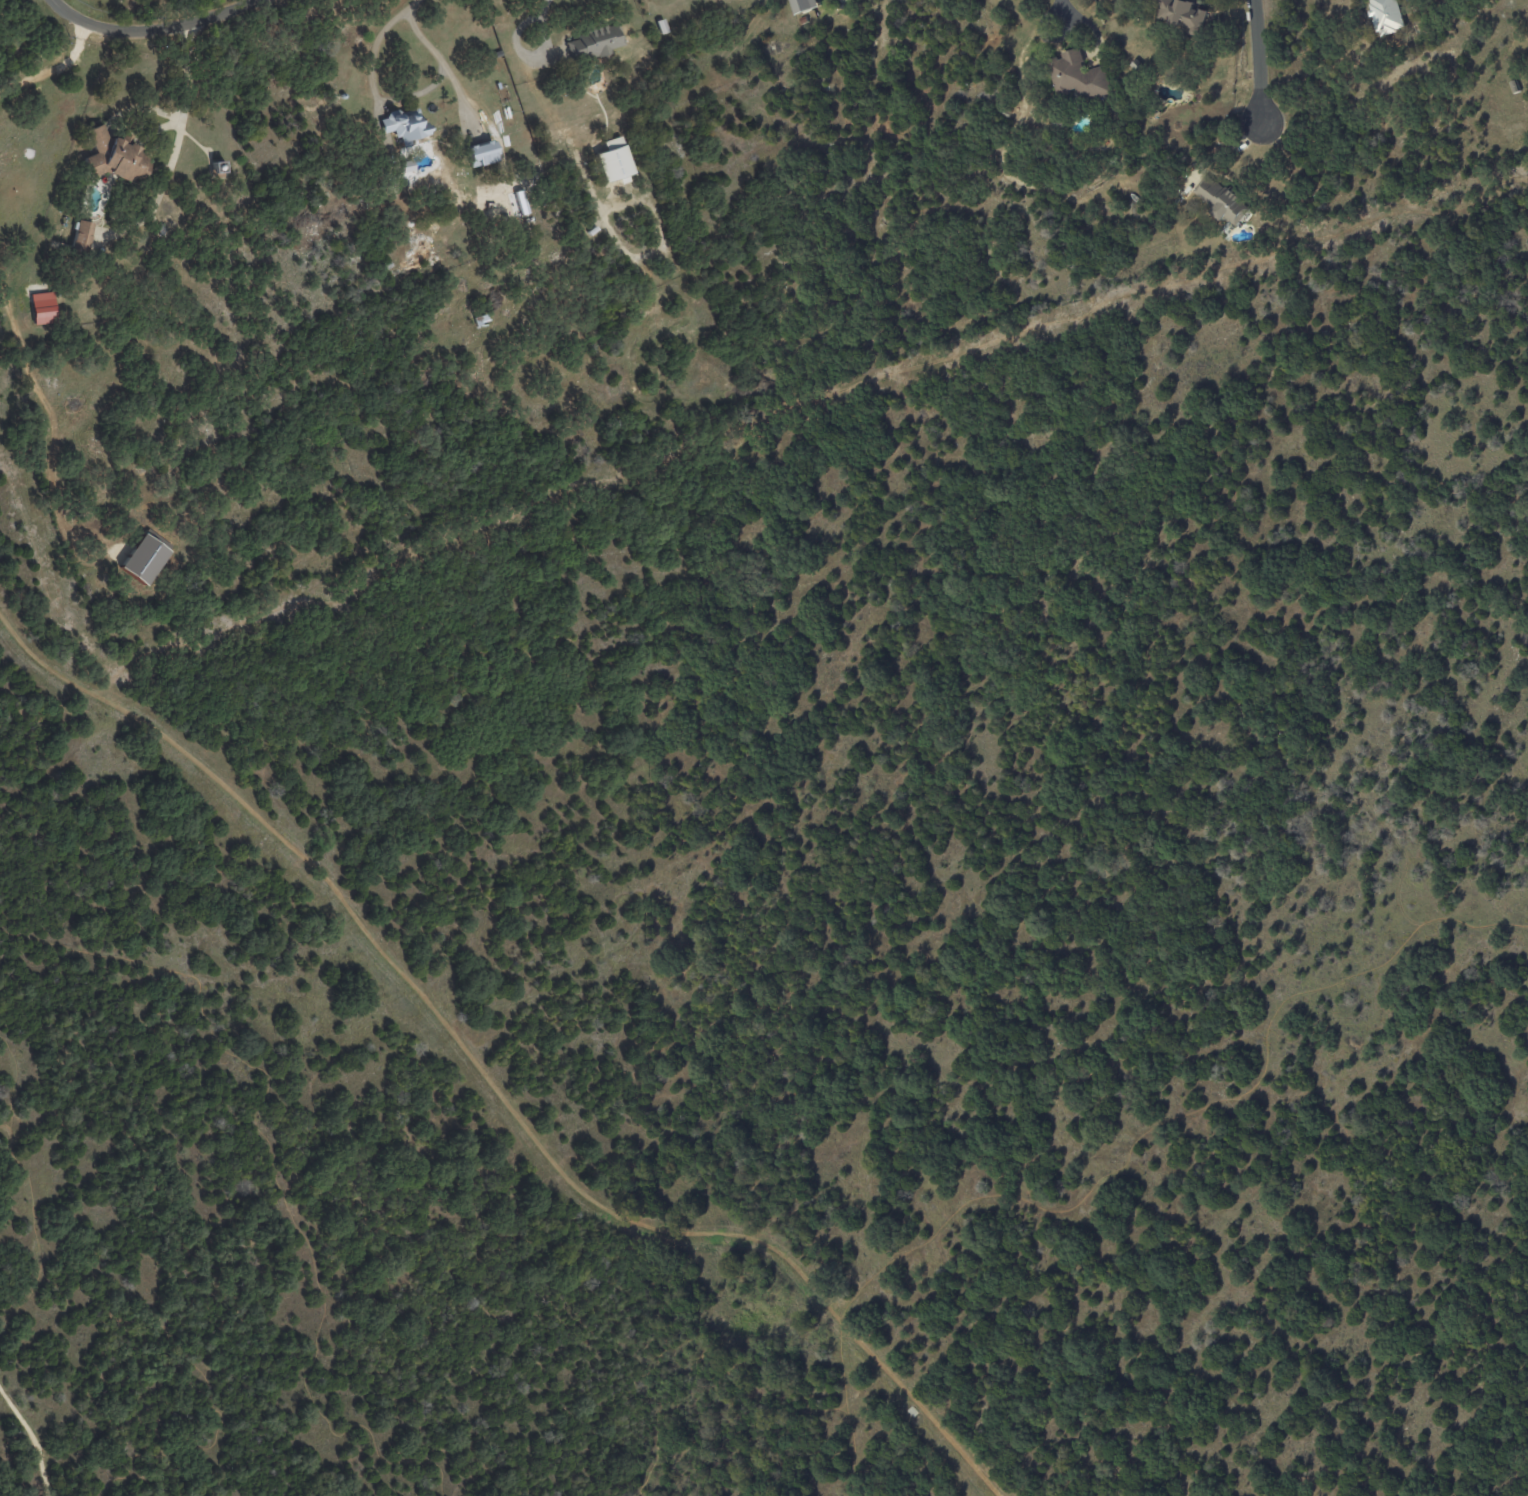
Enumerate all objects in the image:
road: (411, 5)
building: (803, 5)
road: (1062, 5)
building: (1186, 15)
building: (1391, 16)
road: (537, 18)
building: (663, 26)
road: (157, 30)
building: (597, 41)
road: (1258, 60)
building: (1139, 66)
road: (54, 67)
building: (1081, 79)
building: (1515, 86)
road: (401, 98)
road: (141, 106)
building: (1000, 109)
building: (1061, 124)
building: (406, 126)
road: (159, 129)
building: (545, 132)
road: (177, 144)
building: (482, 152)
building: (117, 157)
building: (615, 159)
building: (219, 170)
building: (1225, 201)
building: (162, 229)
building: (82, 239)
building: (673, 264)
building: (389, 266)
building: (43, 308)
building: (483, 319)
road: (796, 404)
road: (49, 422)
park: (819, 939)
road: (490, 1087)
road: (1183, 1112)
road: (275, 1166)
road: (694, 1353)
road: (846, 1414)
road: (35, 1438)
road: (1011, 1493)

